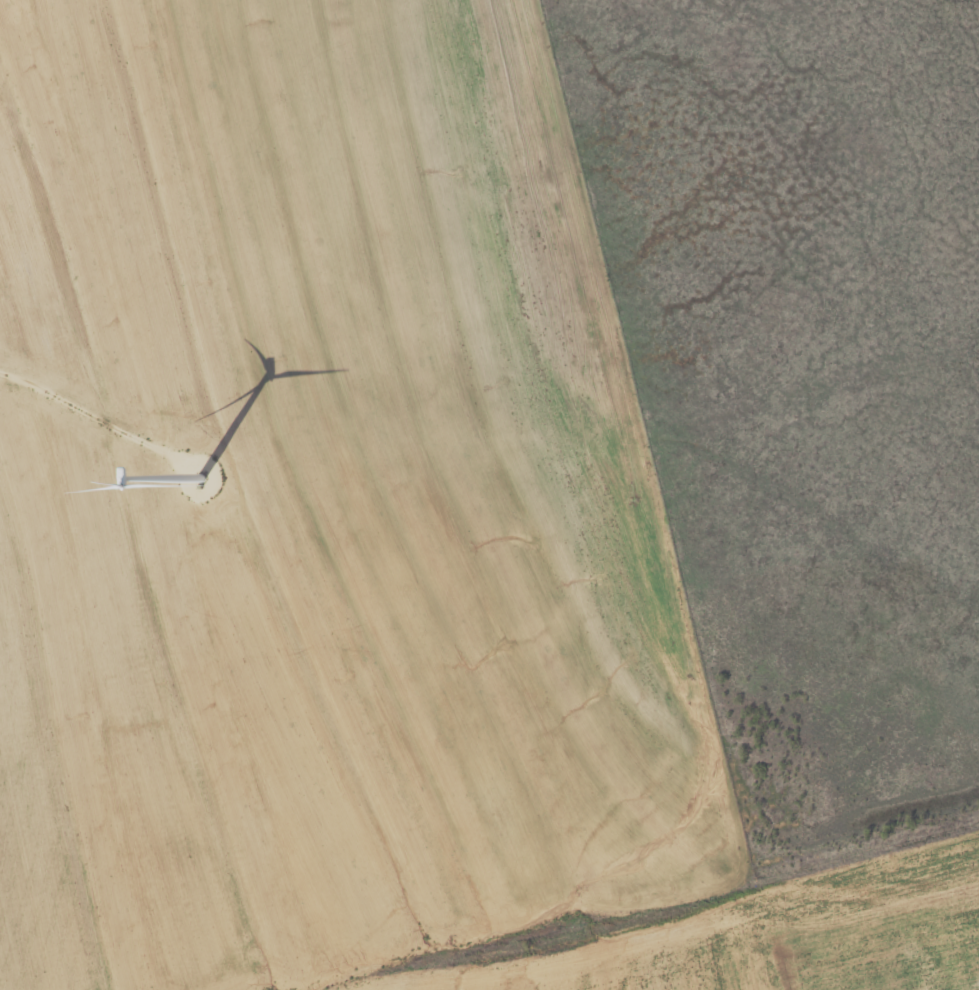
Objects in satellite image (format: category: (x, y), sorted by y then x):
wind turbine: (195, 470)

